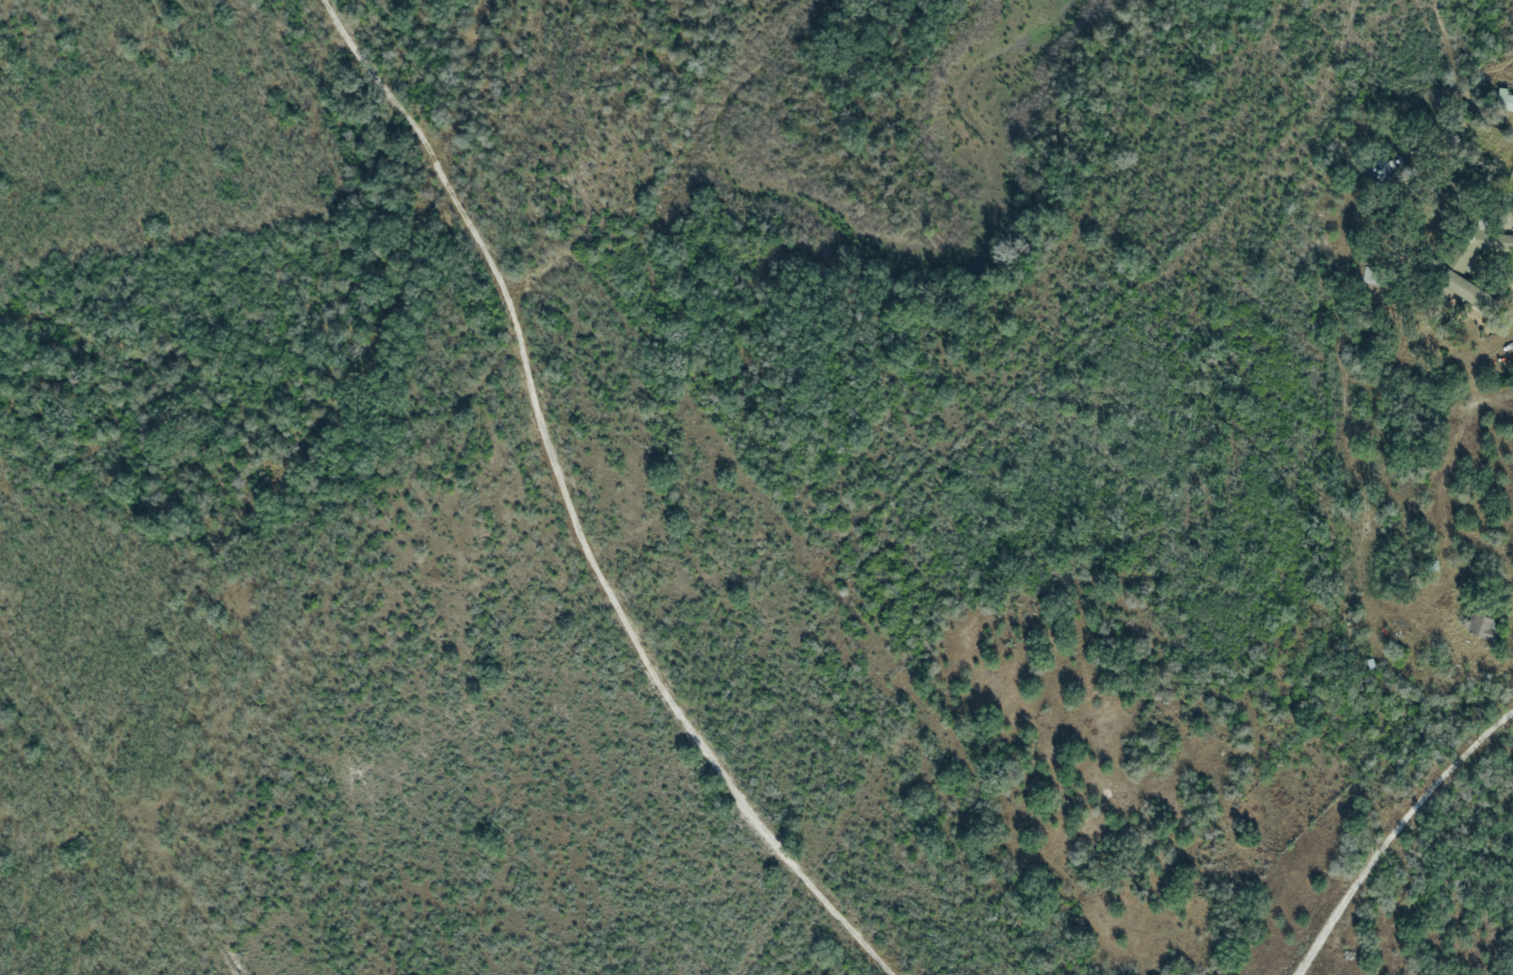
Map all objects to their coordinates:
road: (1449, 52)
building: (1504, 101)
road: (1486, 123)
building: (1382, 168)
building: (1480, 245)
building: (1465, 290)
road: (564, 509)
building: (1485, 628)
road: (1394, 833)

